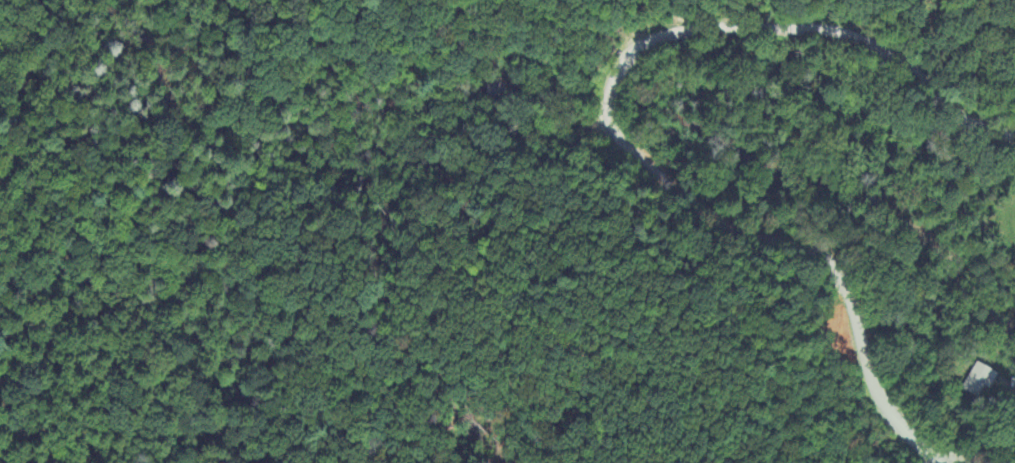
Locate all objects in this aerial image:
road: (610, 120)
building: (979, 380)

